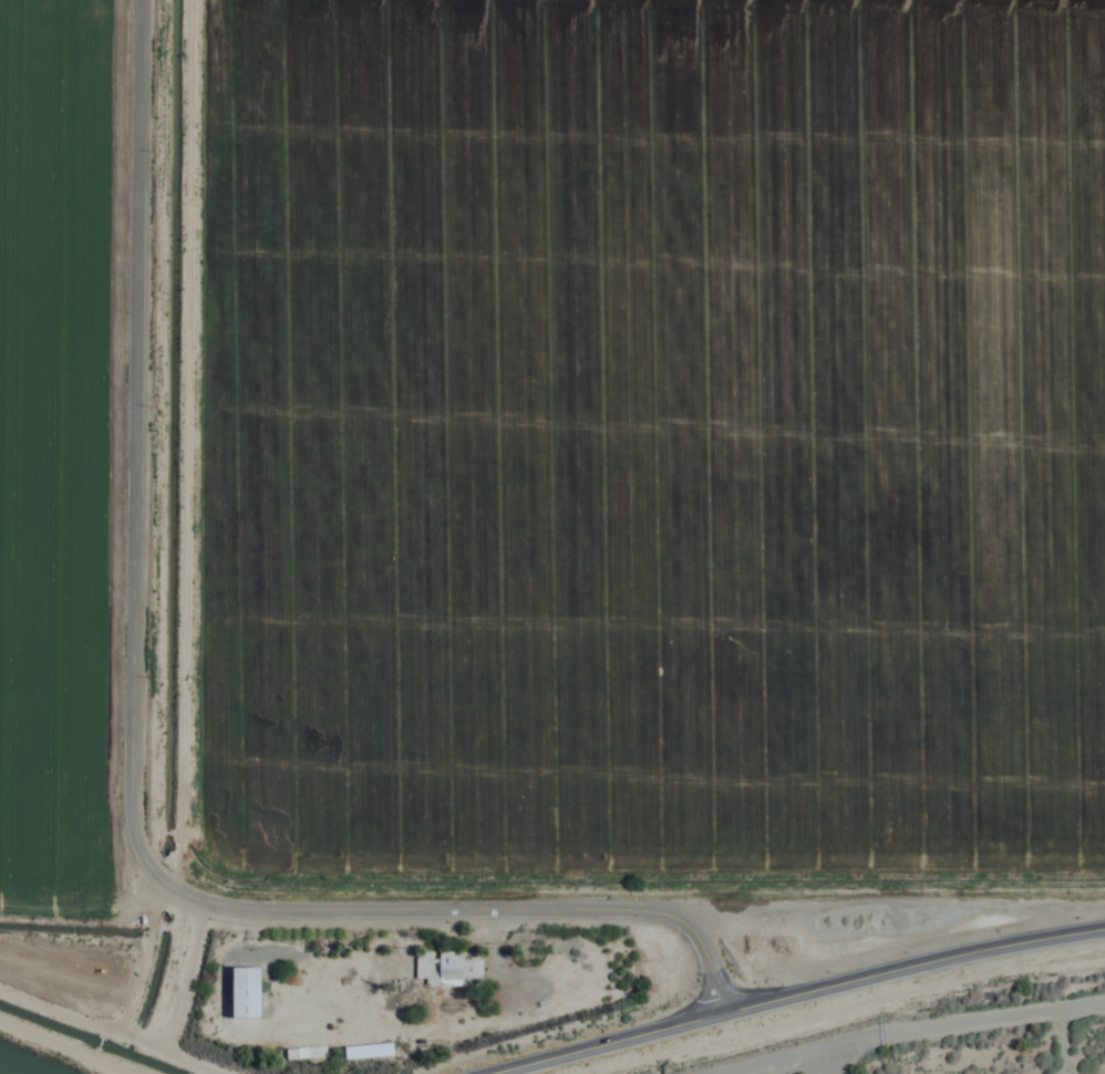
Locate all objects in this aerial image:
road: (134, 753)
building: (444, 970)
road: (912, 970)
road: (602, 1041)
road: (73, 1043)

